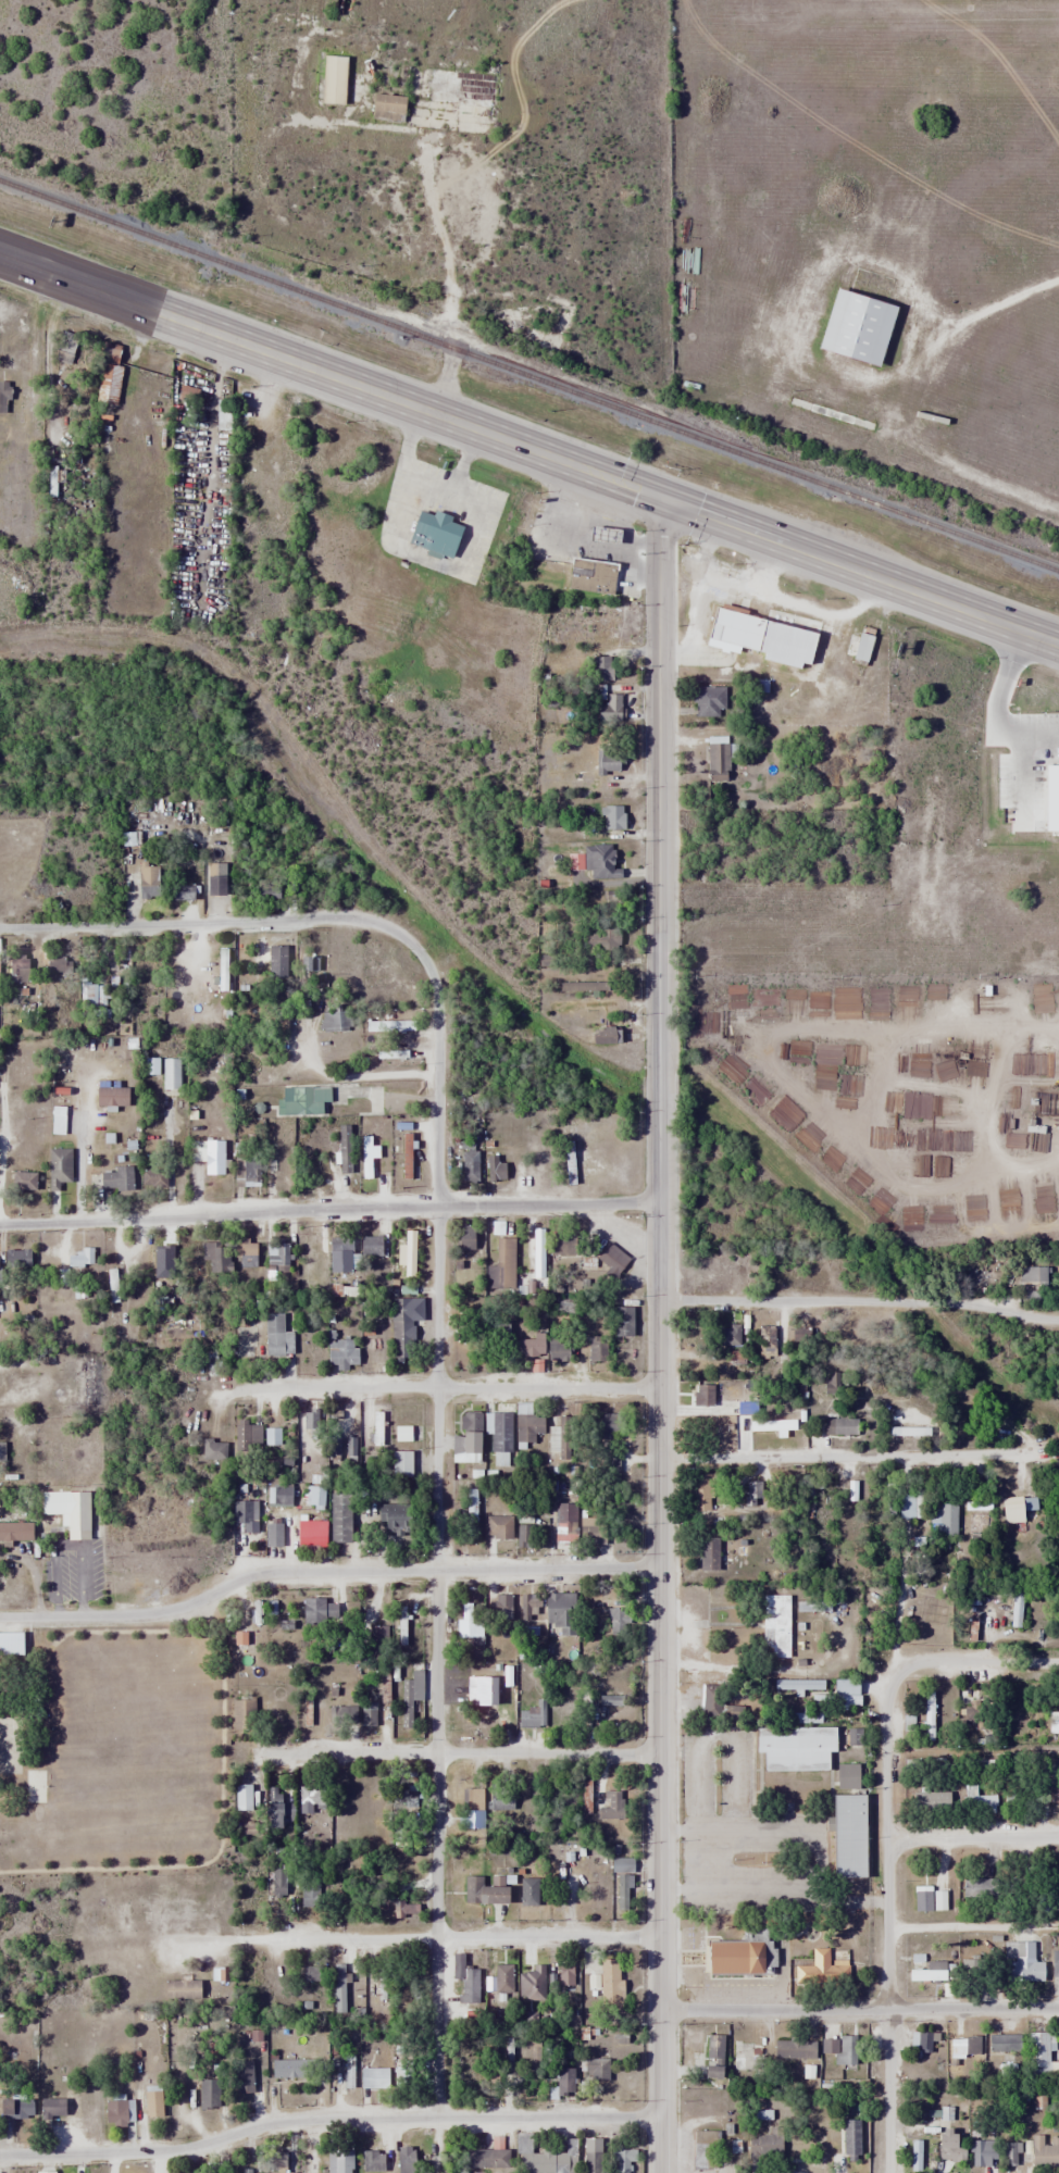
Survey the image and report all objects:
building: (333, 79)
building: (458, 87)
road: (441, 226)
building: (535, 338)
building: (108, 375)
railway: (528, 378)
road: (528, 449)
traffic signals: (660, 498)
building: (433, 533)
building: (589, 575)
building: (858, 647)
building: (598, 666)
building: (707, 701)
building: (717, 759)
building: (598, 767)
building: (611, 816)
building: (600, 861)
building: (149, 878)
building: (213, 884)
building: (182, 890)
road: (217, 920)
building: (277, 960)
building: (60, 966)
building: (16, 970)
building: (197, 977)
building: (94, 996)
building: (335, 1015)
building: (111, 1094)
building: (307, 1099)
building: (58, 1120)
building: (344, 1148)
building: (282, 1160)
building: (366, 1160)
building: (246, 1162)
building: (59, 1166)
building: (215, 1166)
building: (116, 1177)
building: (153, 1177)
building: (23, 1179)
road: (329, 1208)
building: (463, 1237)
building: (309, 1241)
building: (339, 1244)
building: (370, 1245)
building: (277, 1251)
building: (246, 1252)
building: (215, 1254)
building: (406, 1254)
building: (80, 1258)
building: (16, 1259)
building: (501, 1265)
road: (860, 1301)
building: (563, 1303)
building: (622, 1320)
building: (401, 1329)
building: (695, 1333)
building: (498, 1334)
building: (277, 1335)
road: (661, 1335)
building: (726, 1335)
building: (528, 1345)
building: (557, 1346)
building: (595, 1348)
building: (341, 1352)
building: (831, 1382)
road: (451, 1386)
building: (700, 1395)
building: (606, 1425)
building: (838, 1425)
building: (527, 1426)
building: (377, 1427)
building: (498, 1431)
building: (469, 1432)
building: (407, 1433)
building: (707, 1433)
building: (247, 1435)
building: (272, 1436)
building: (552, 1437)
building: (1, 1450)
building: (1057, 1451)
road: (844, 1457)
building: (400, 1463)
building: (700, 1491)
building: (279, 1494)
building: (752, 1494)
building: (315, 1495)
building: (1010, 1509)
building: (77, 1511)
building: (472, 1512)
building: (523, 1516)
building: (339, 1518)
building: (943, 1518)
building: (395, 1520)
building: (245, 1523)
building: (563, 1526)
building: (16, 1531)
building: (310, 1533)
building: (590, 1533)
building: (273, 1534)
building: (524, 1534)
building: (501, 1535)
road: (438, 1536)
building: (708, 1553)
road: (326, 1571)
building: (527, 1607)
building: (560, 1611)
building: (319, 1612)
building: (502, 1613)
building: (616, 1621)
building: (775, 1621)
building: (402, 1624)
building: (473, 1626)
building: (378, 1636)
building: (11, 1644)
road: (975, 1661)
building: (844, 1686)
building: (797, 1688)
building: (410, 1693)
building: (475, 1696)
building: (709, 1701)
building: (584, 1709)
building: (367, 1713)
building: (242, 1714)
building: (341, 1714)
building: (532, 1715)
building: (927, 1715)
building: (1052, 1723)
building: (854, 1737)
building: (806, 1747)
road: (463, 1752)
building: (847, 1776)
building: (1050, 1794)
building: (500, 1800)
building: (980, 1802)
building: (607, 1804)
building: (273, 1808)
building: (472, 1808)
building: (324, 1832)
building: (847, 1836)
road: (973, 1838)
building: (278, 1881)
building: (977, 1888)
building: (527, 1891)
building: (622, 1891)
building: (482, 1893)
building: (597, 1893)
building: (310, 1895)
building: (930, 1901)
building: (198, 1911)
road: (888, 1922)
road: (471, 1937)
building: (733, 1957)
building: (1021, 1962)
building: (1054, 1962)
building: (821, 1969)
building: (975, 1971)
building: (927, 1972)
building: (565, 1974)
building: (502, 1978)
building: (464, 1980)
building: (532, 1983)
building: (339, 1987)
building: (611, 1988)
road: (860, 2010)
building: (921, 2040)
building: (1001, 2043)
building: (964, 2046)
building: (794, 2048)
building: (839, 2049)
building: (1037, 2051)
building: (712, 2056)
building: (333, 2066)
building: (290, 2068)
building: (596, 2069)
building: (348, 2071)
building: (468, 2073)
building: (242, 2076)
building: (401, 2076)
building: (377, 2077)
building: (563, 2082)
building: (208, 2094)
building: (152, 2100)
building: (51, 2107)
building: (15, 2108)
building: (939, 2113)
road: (328, 2120)
building: (850, 2137)
building: (950, 2146)
building: (762, 2147)
building: (705, 2149)
building: (793, 2150)
building: (1044, 2151)
building: (982, 2152)
building: (1010, 2153)
building: (488, 2156)
building: (404, 2160)
building: (550, 2160)
building: (591, 2160)
building: (620, 2160)
building: (372, 2161)
building: (341, 2162)
building: (250, 2172)

